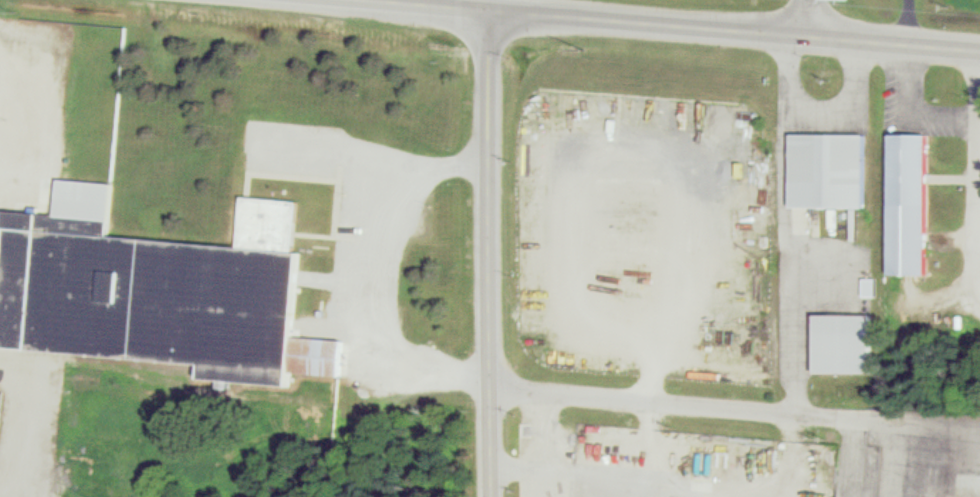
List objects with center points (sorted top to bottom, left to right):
road: (490, 7)
road: (807, 18)
road: (659, 26)
road: (853, 108)
road: (905, 115)
road: (609, 137)
road: (976, 147)
road: (337, 151)
building: (831, 167)
building: (911, 201)
road: (787, 224)
road: (979, 246)
road: (490, 255)
road: (978, 270)
road: (370, 275)
building: (157, 288)
building: (845, 339)
building: (0, 396)
road: (677, 404)
road: (878, 419)
road: (26, 421)
road: (936, 425)
road: (642, 438)
road: (541, 445)
road: (890, 459)
road: (676, 476)

